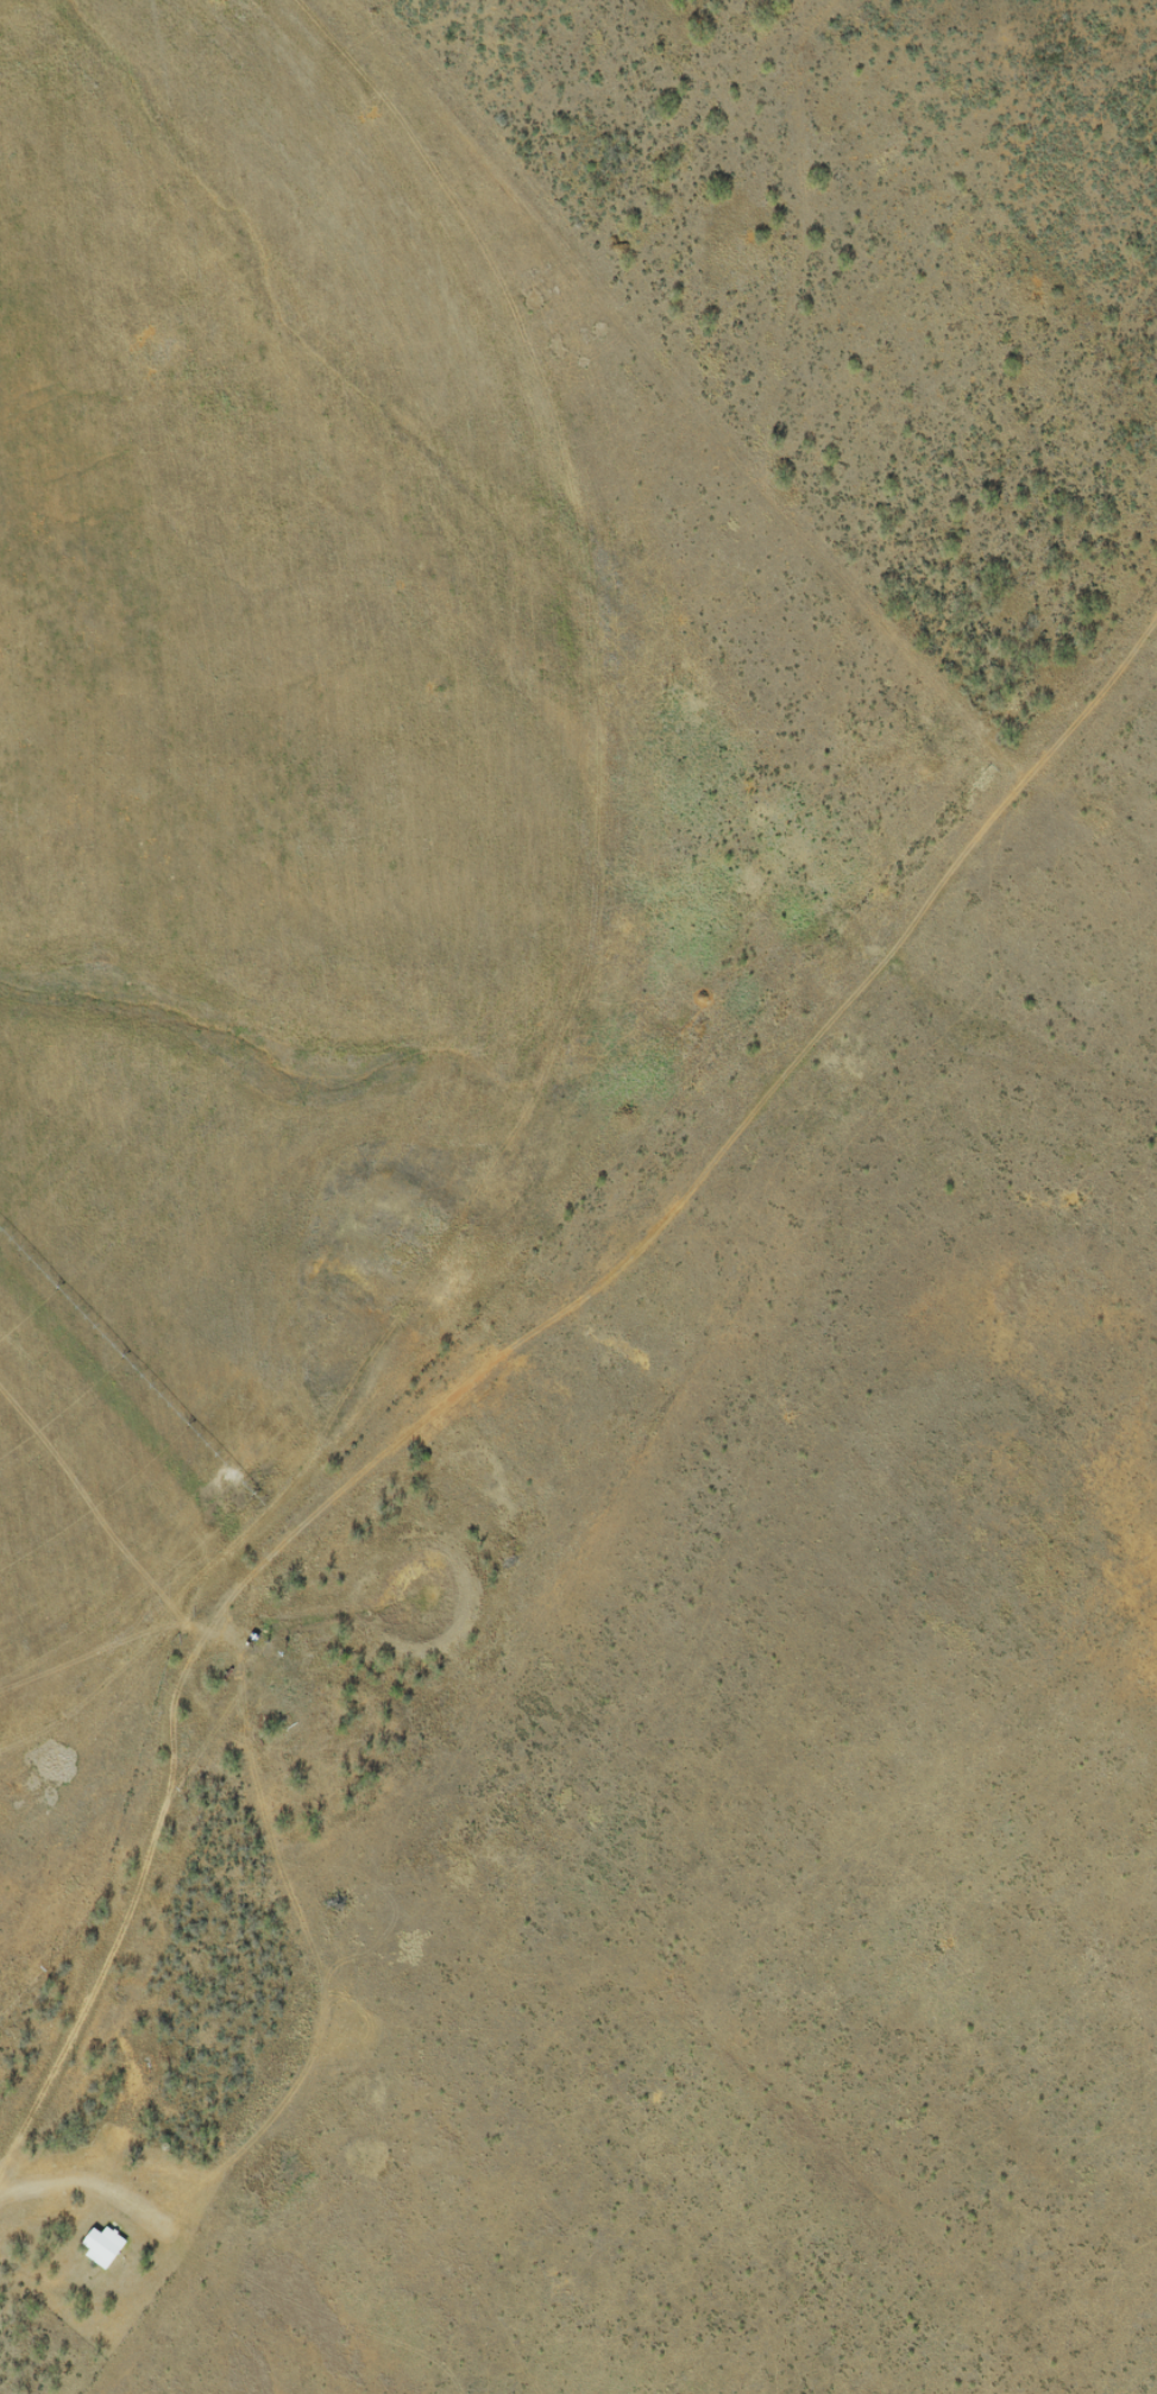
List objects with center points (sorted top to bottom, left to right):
road: (1027, 1407)
road: (277, 1798)
road: (200, 1811)
building: (105, 2250)

